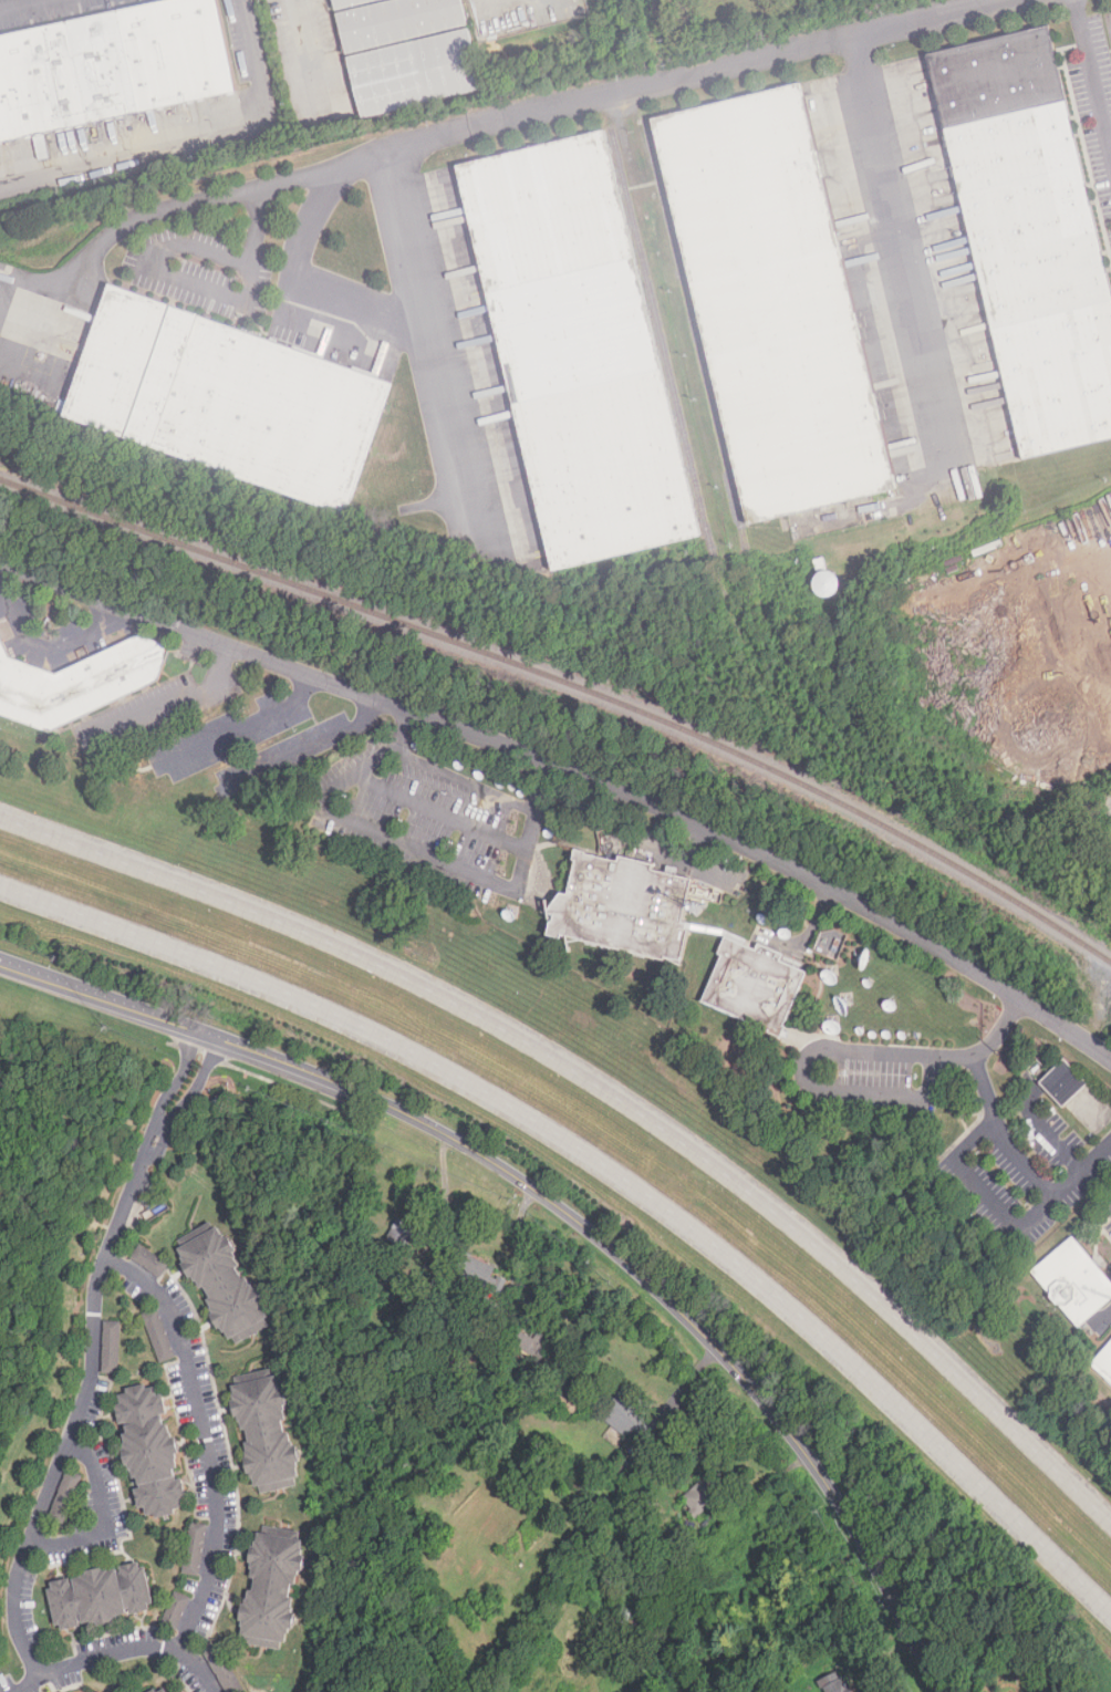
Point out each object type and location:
road: (14, 2)
building: (347, 3)
building: (397, 22)
road: (310, 54)
building: (111, 65)
building: (414, 73)
road: (1091, 79)
road: (184, 134)
road: (444, 137)
road: (880, 169)
building: (1031, 235)
road: (308, 279)
road: (201, 288)
building: (775, 302)
road: (432, 339)
building: (578, 351)
building: (227, 399)
building: (826, 583)
road: (48, 645)
building: (79, 682)
railway: (570, 688)
road: (169, 707)
road: (401, 727)
road: (240, 728)
road: (301, 748)
road: (359, 770)
road: (573, 774)
road: (464, 780)
road: (541, 788)
road: (438, 810)
road: (454, 863)
building: (614, 906)
building: (830, 943)
building: (752, 984)
road: (827, 1046)
building: (1063, 1081)
road: (184, 1090)
road: (604, 1091)
road: (1047, 1133)
road: (1021, 1163)
road: (606, 1167)
road: (982, 1192)
road: (562, 1212)
building: (401, 1233)
building: (148, 1260)
building: (479, 1271)
building: (1073, 1280)
building: (225, 1285)
building: (158, 1335)
building: (537, 1342)
building: (111, 1346)
building: (468, 1351)
building: (1103, 1363)
building: (569, 1399)
road: (80, 1409)
building: (623, 1419)
building: (272, 1433)
road: (204, 1440)
building: (150, 1450)
building: (704, 1494)
building: (64, 1496)
road: (106, 1516)
building: (197, 1547)
building: (271, 1590)
building: (100, 1595)
building: (175, 1609)
road: (120, 1652)
building: (222, 1669)
building: (834, 1682)
building: (168, 1689)
building: (158, 1691)

